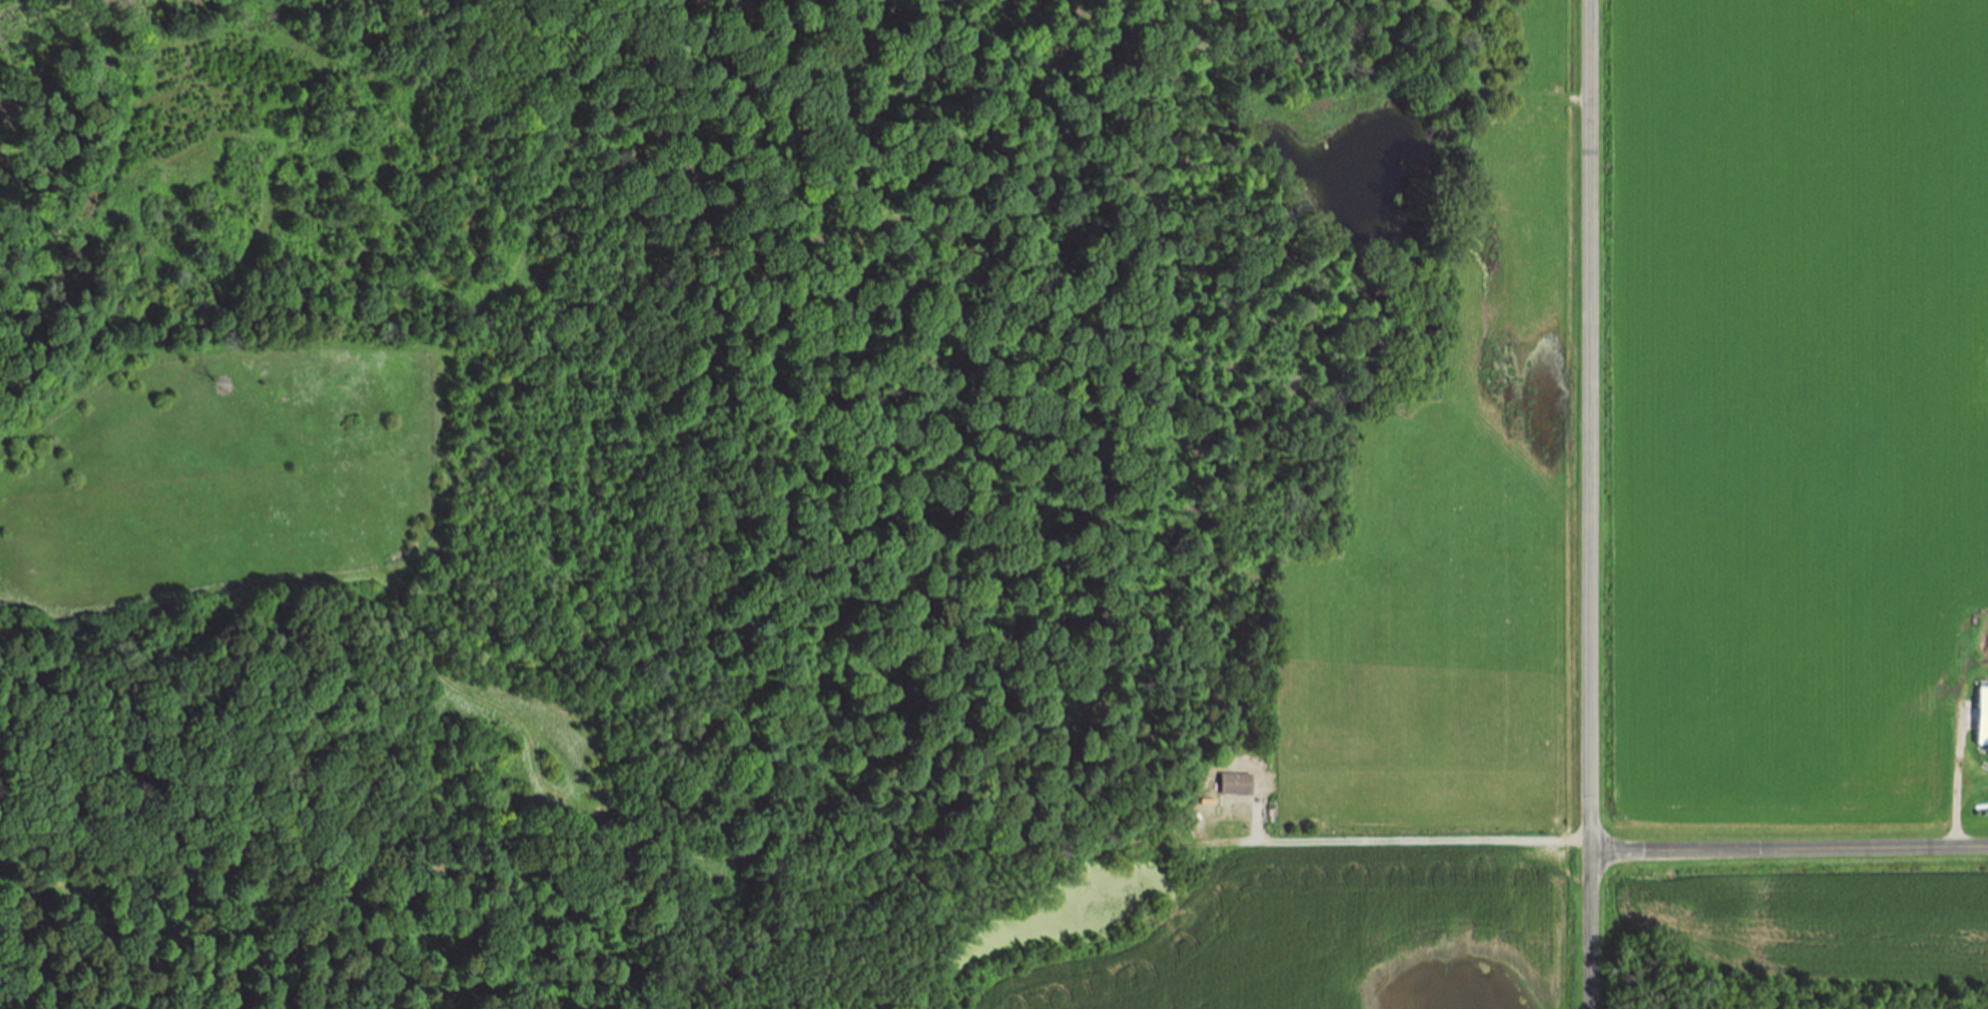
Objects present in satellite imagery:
road: (1588, 504)
building: (1984, 719)
road: (1957, 781)
building: (1238, 787)
road: (1788, 847)

